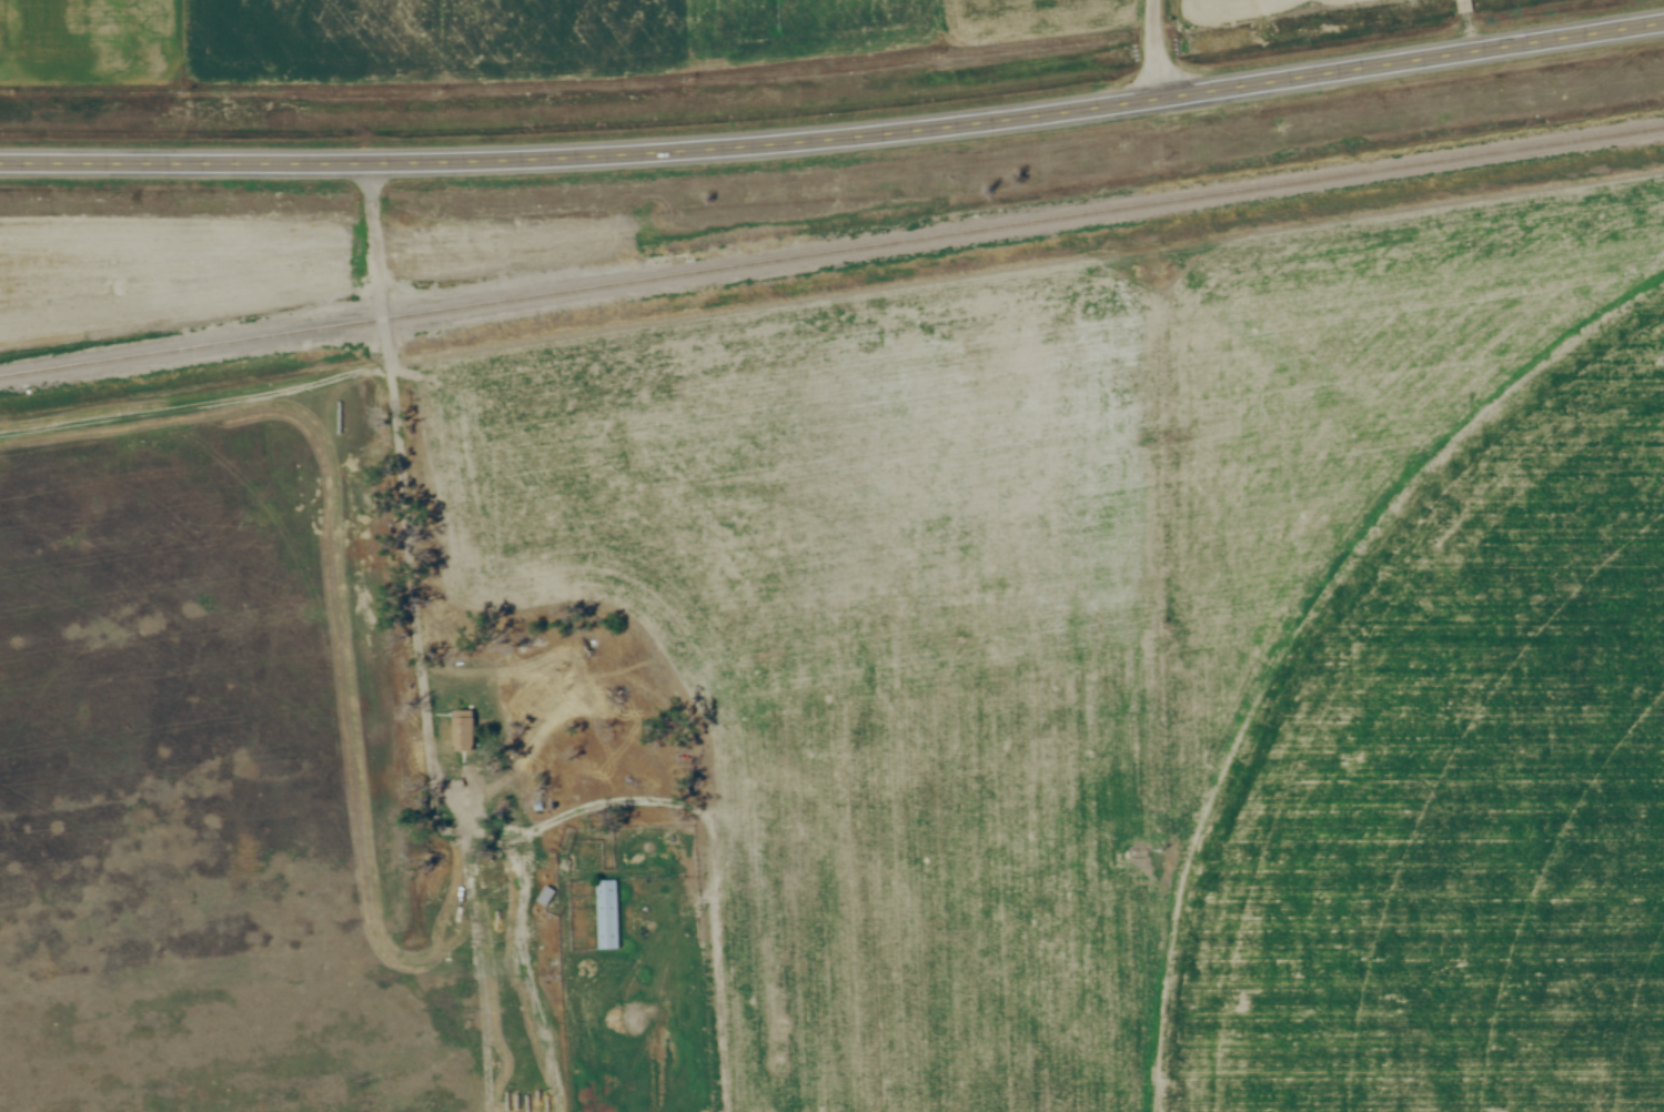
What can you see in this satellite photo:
road: (1160, 49)
road: (835, 138)
railway: (831, 251)
road: (401, 469)
building: (464, 728)
building: (609, 914)

